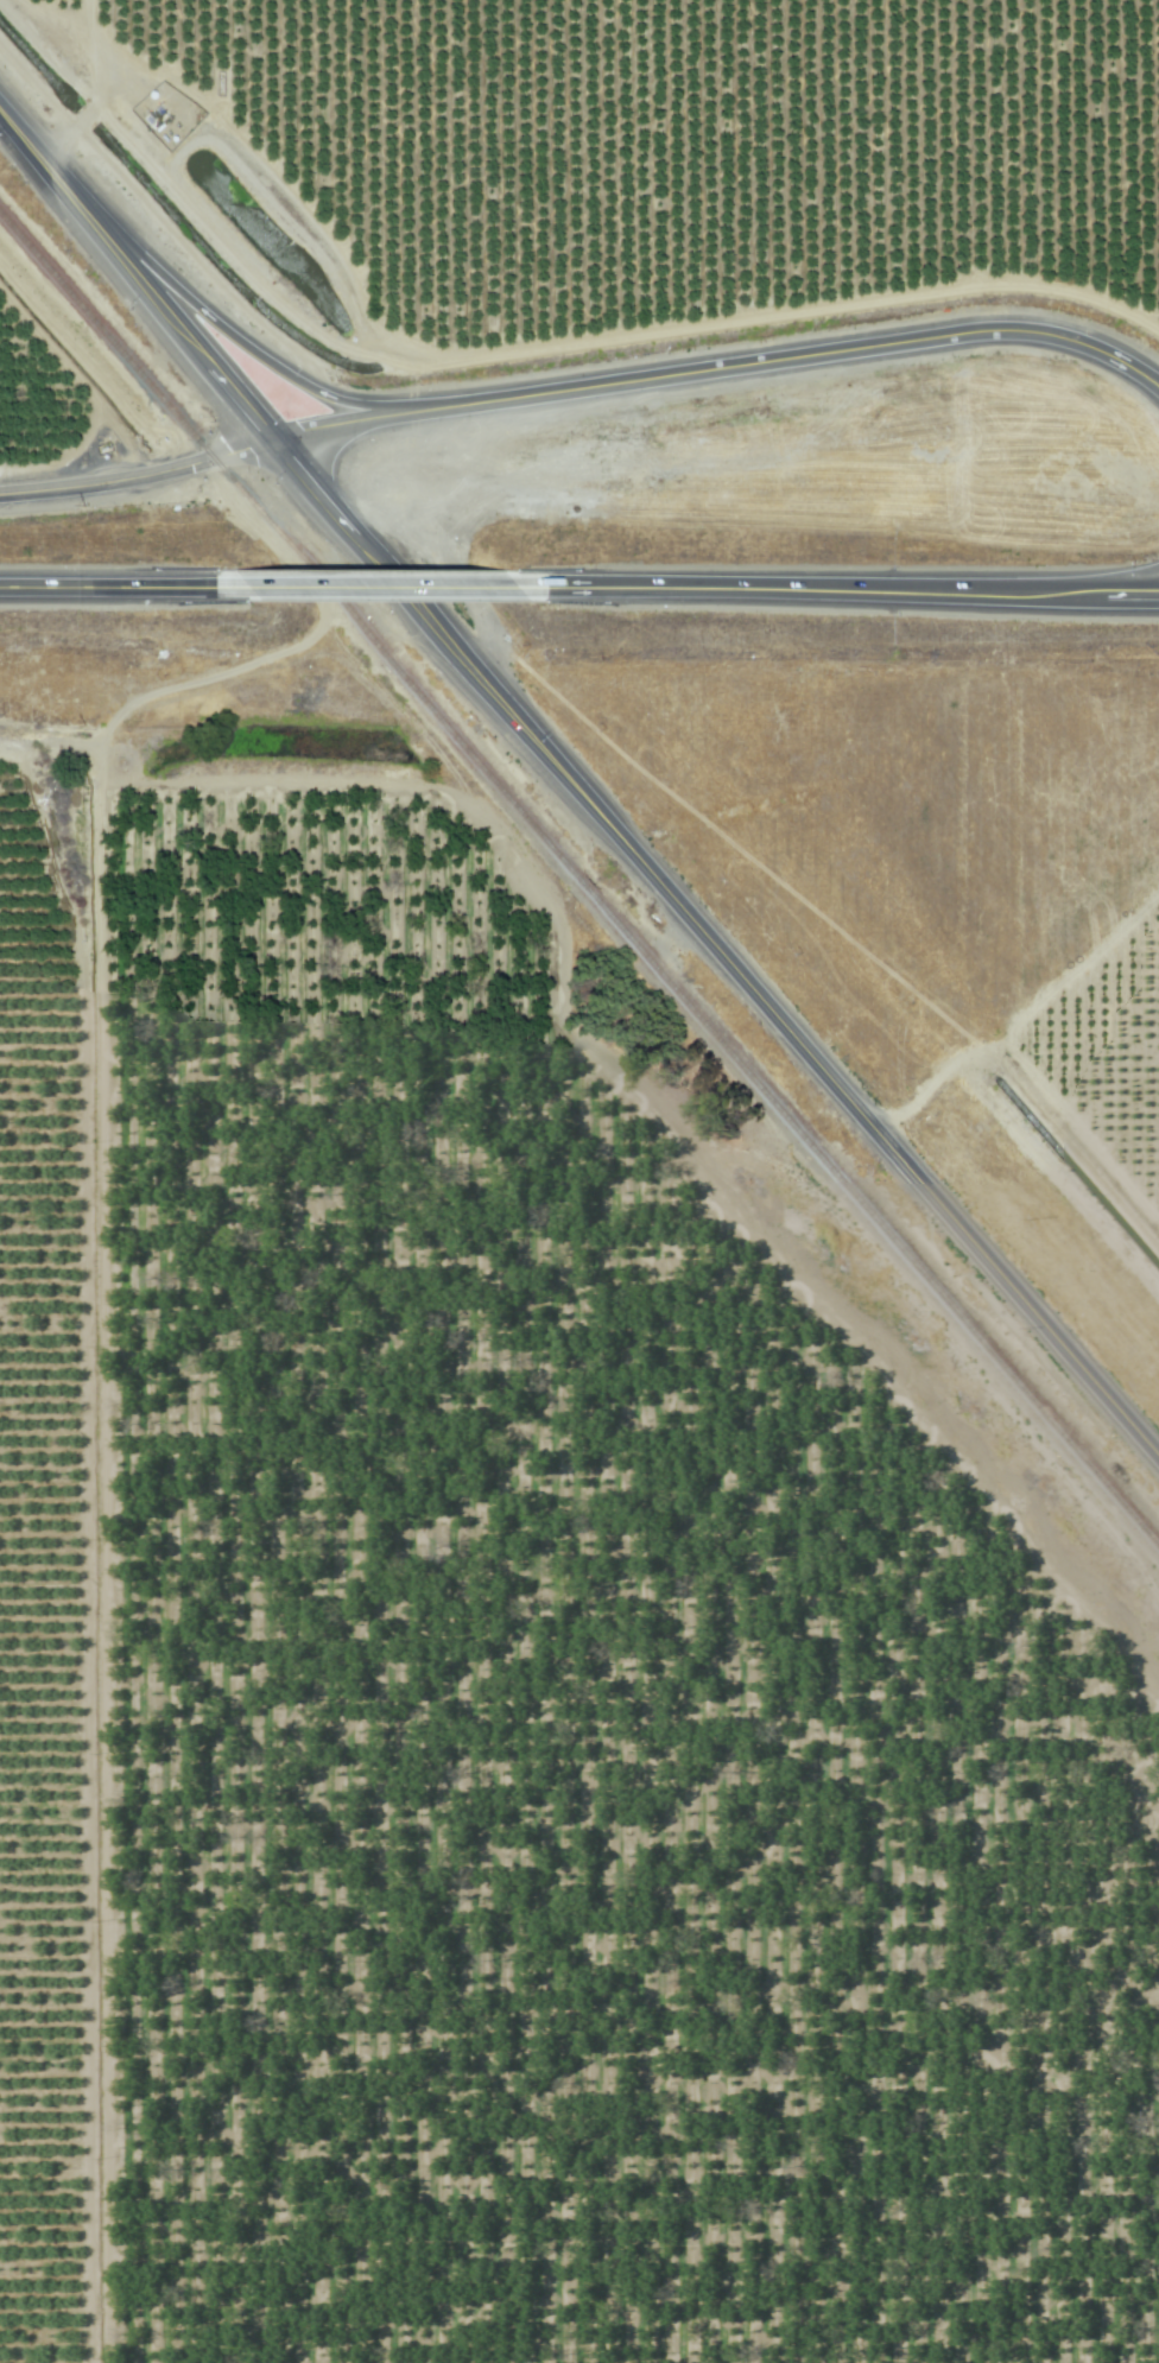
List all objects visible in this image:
crop: (610, 179)
road: (137, 277)
road: (254, 349)
road: (721, 365)
road: (138, 479)
crop: (37, 495)
road: (1114, 582)
road: (118, 583)
road: (393, 584)
road: (854, 589)
crop: (971, 866)
railway: (578, 881)
road: (716, 950)
crop: (500, 1687)

